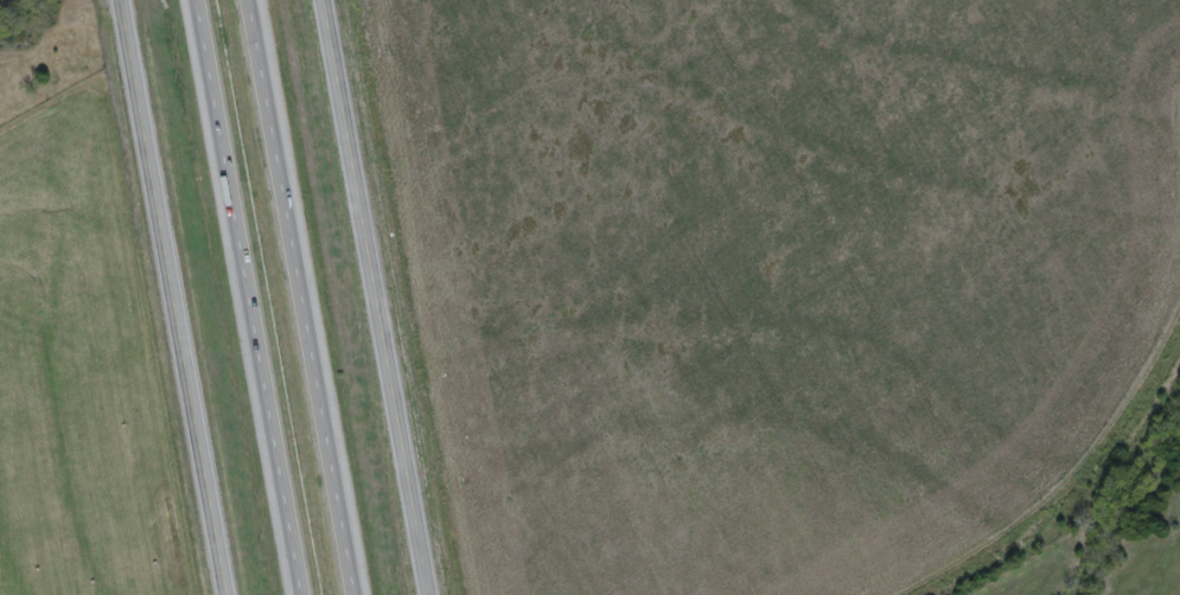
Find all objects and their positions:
road: (255, 296)
road: (299, 296)
road: (383, 296)
road: (177, 297)

